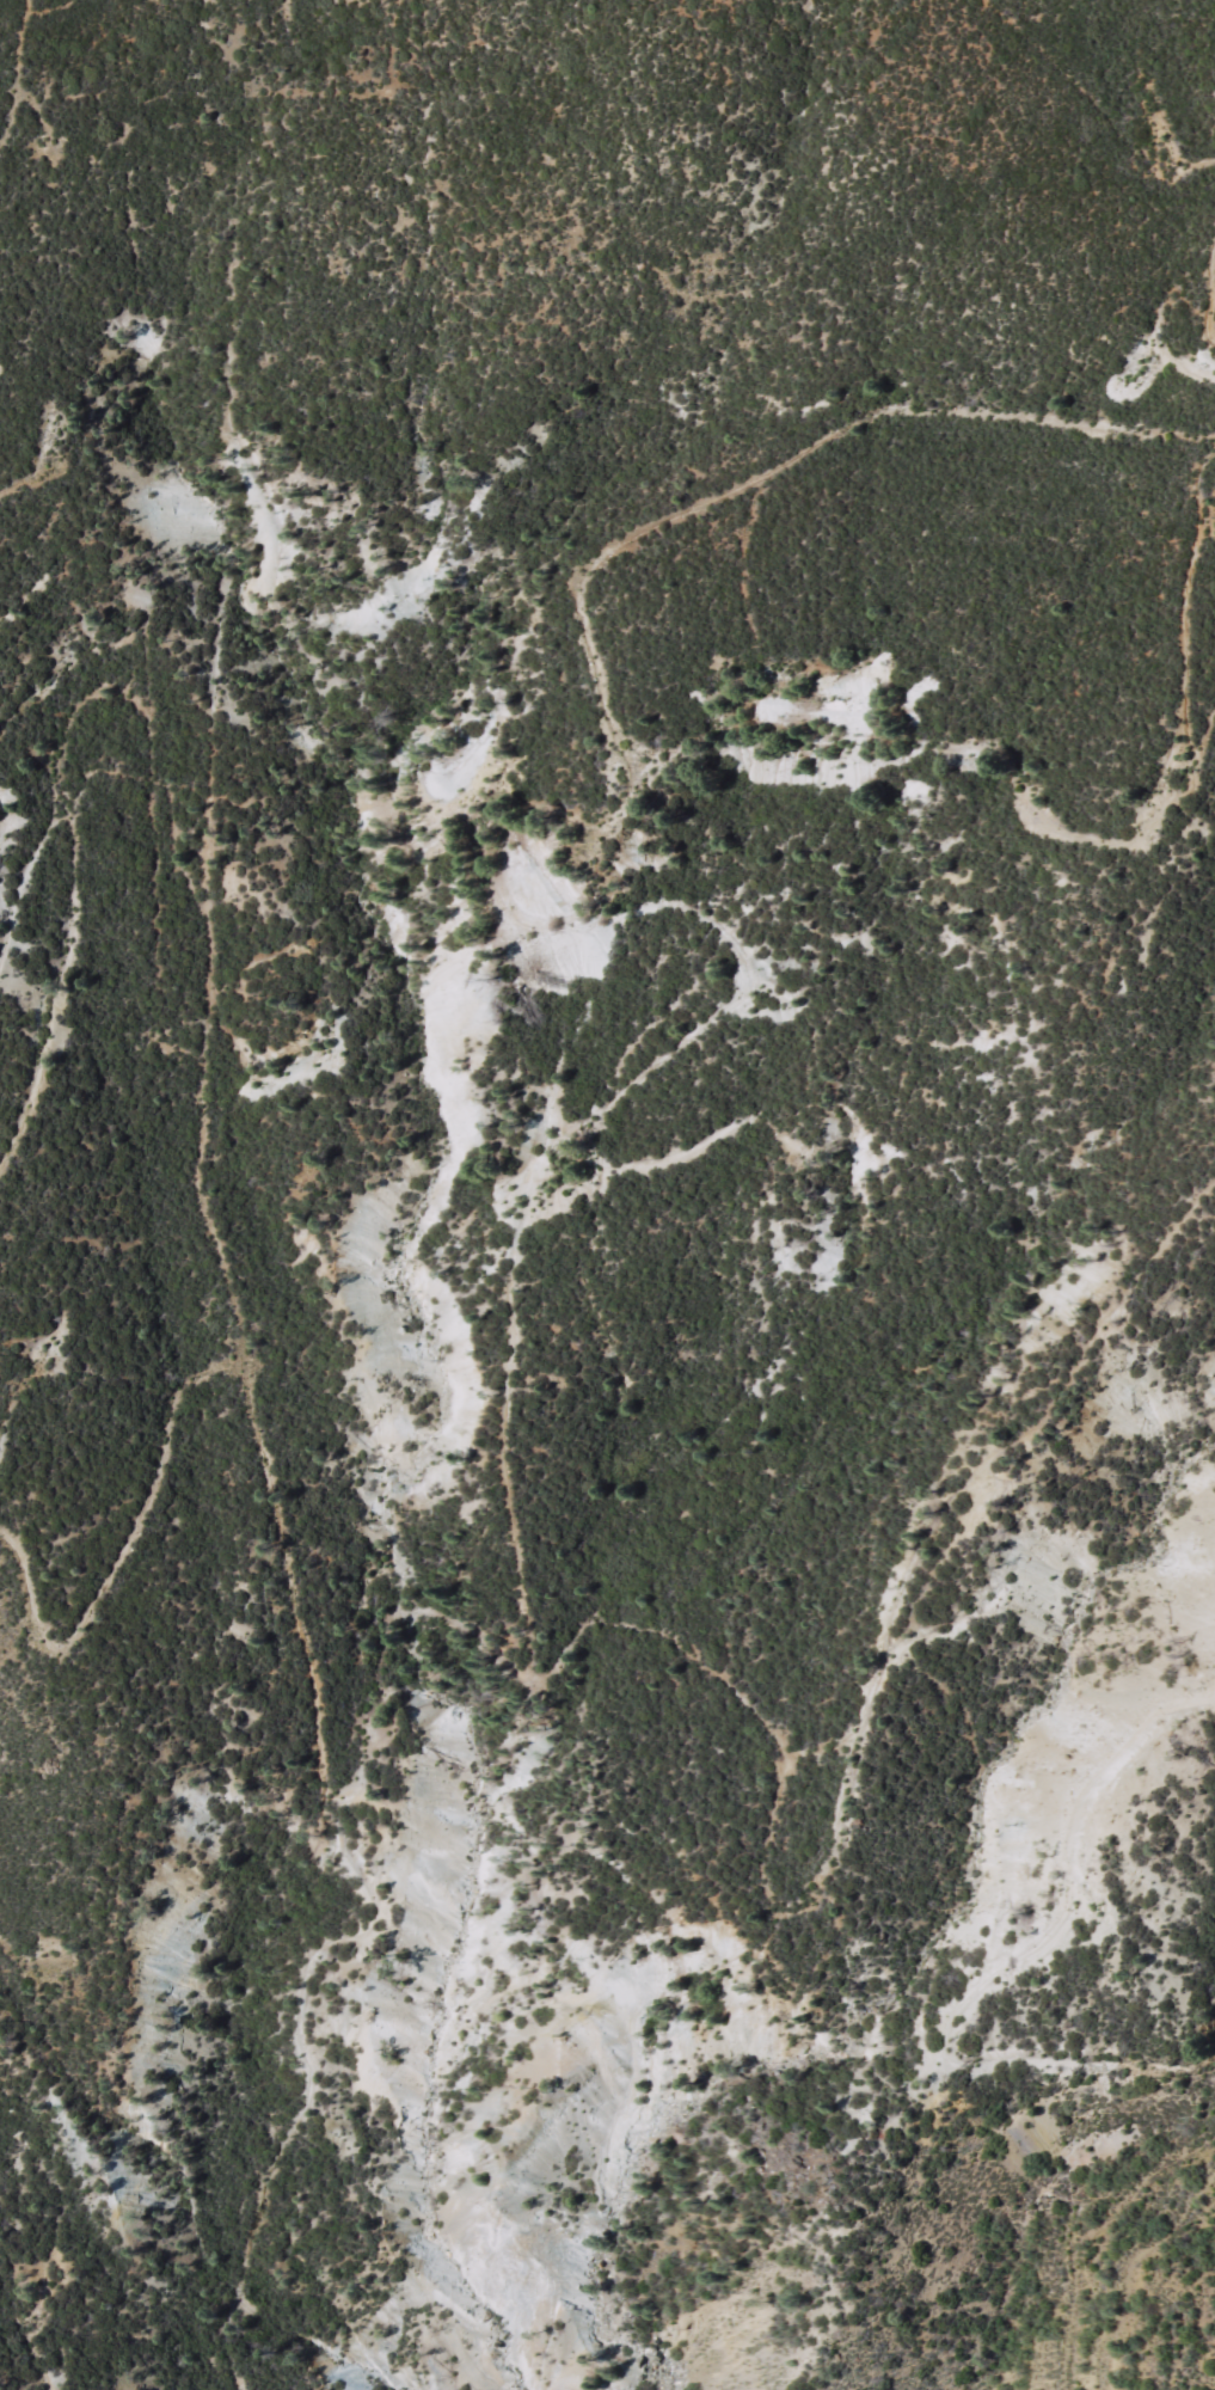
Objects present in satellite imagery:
quarry: (444, 1311)

